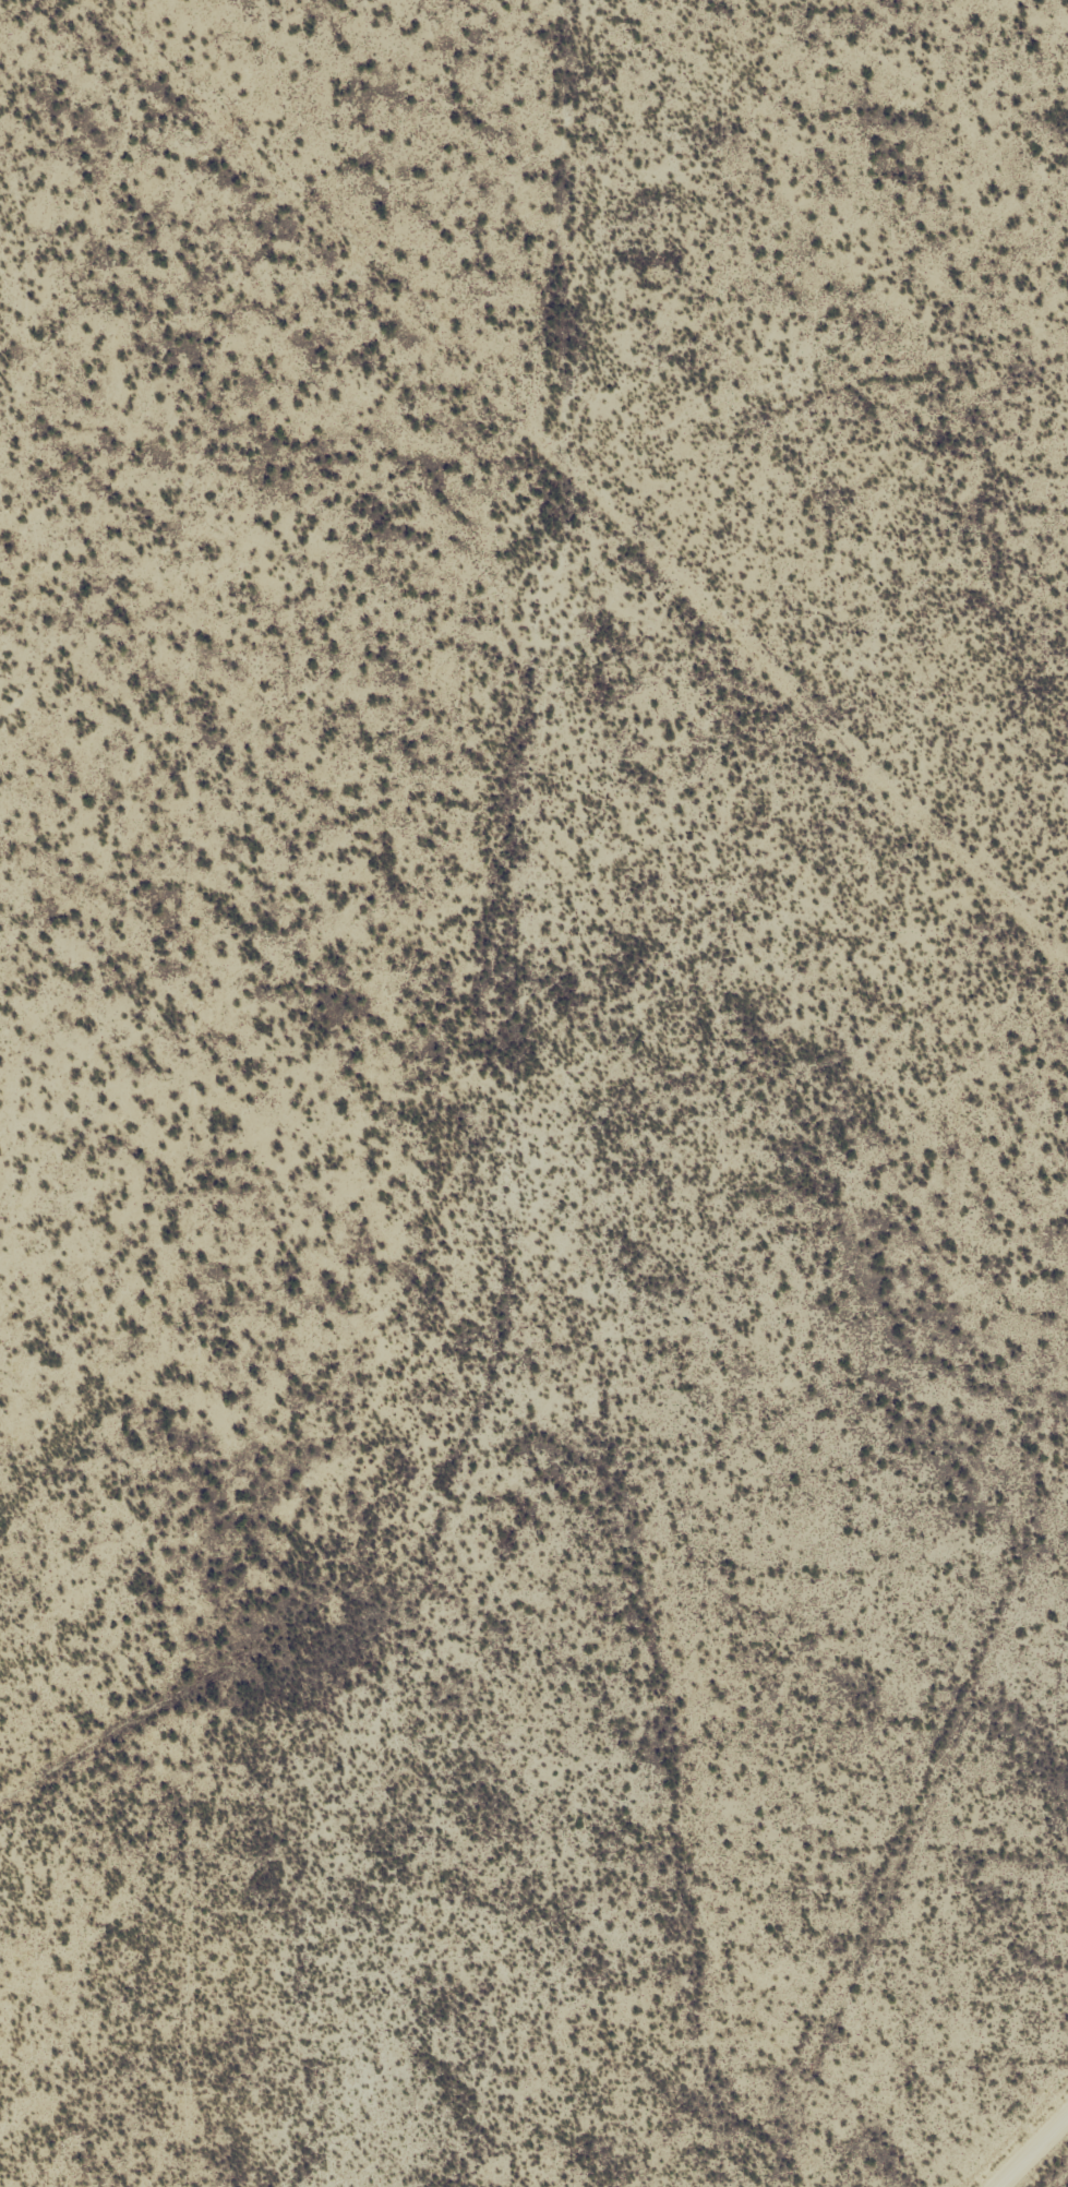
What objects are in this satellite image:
road: (1045, 2164)

